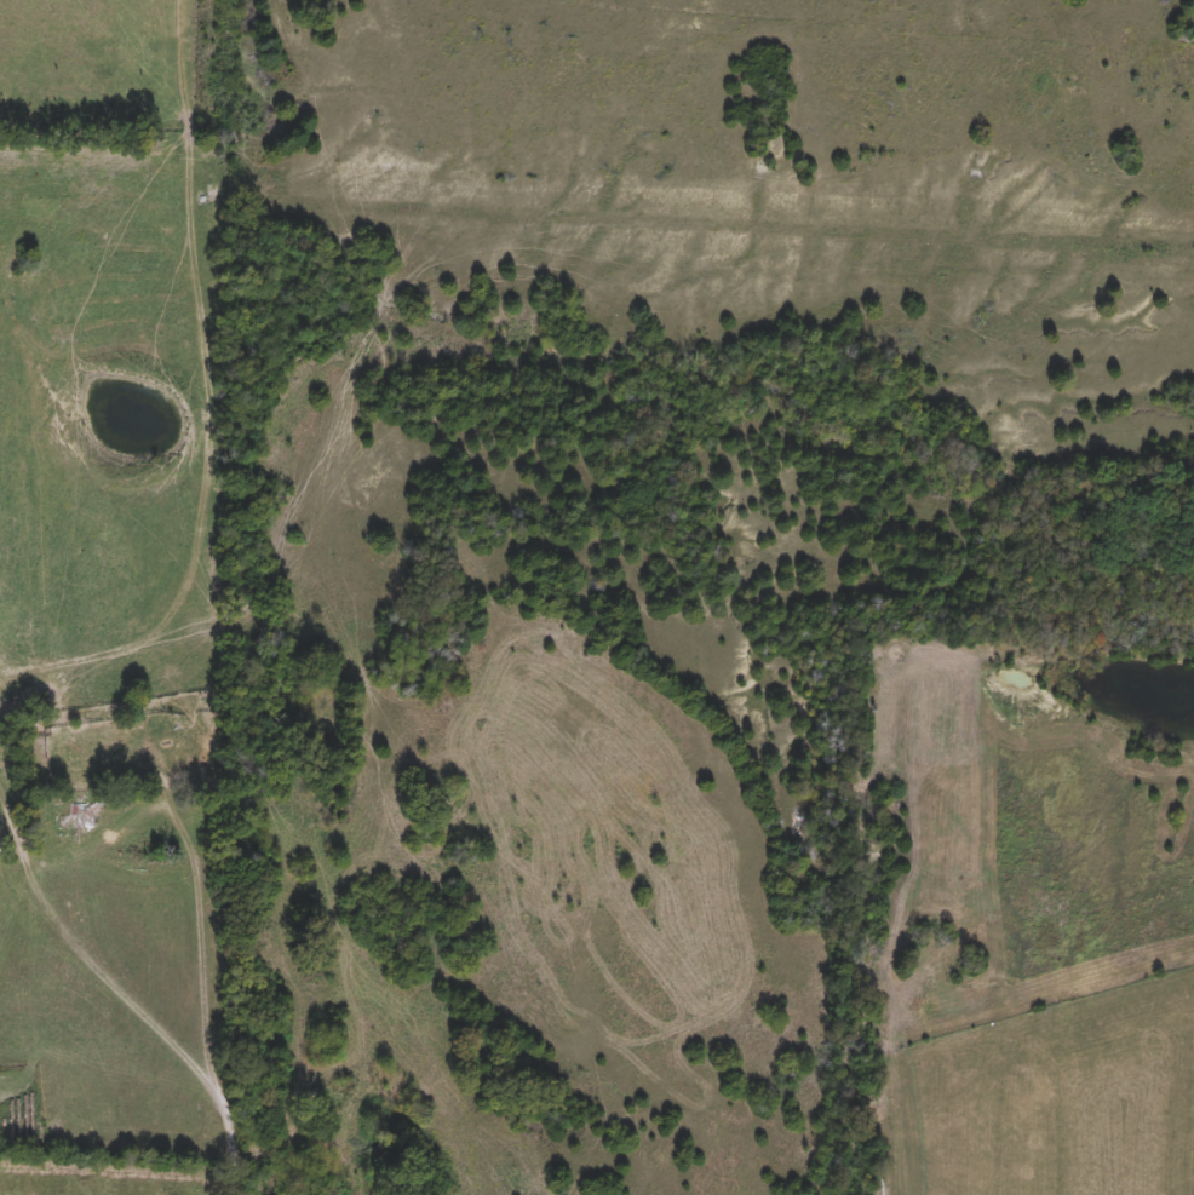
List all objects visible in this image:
building: (82, 817)
road: (200, 972)

